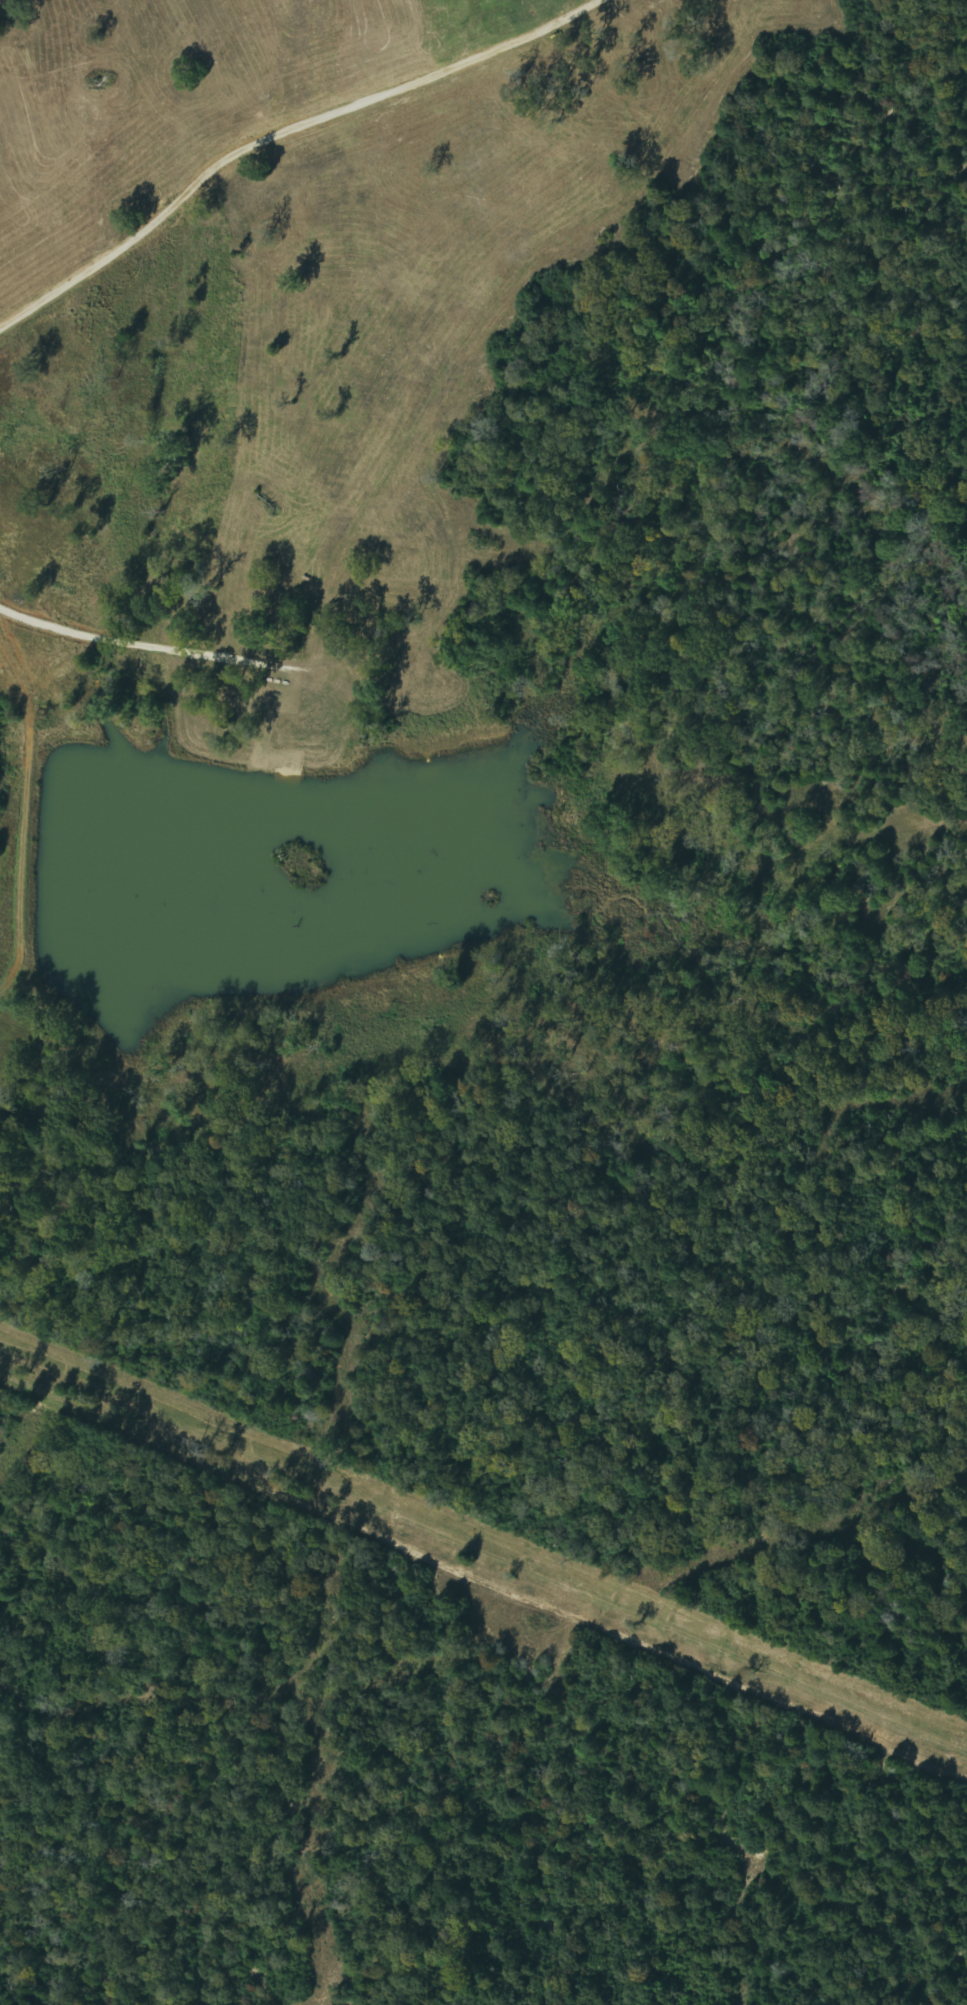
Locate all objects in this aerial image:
road: (268, 127)

